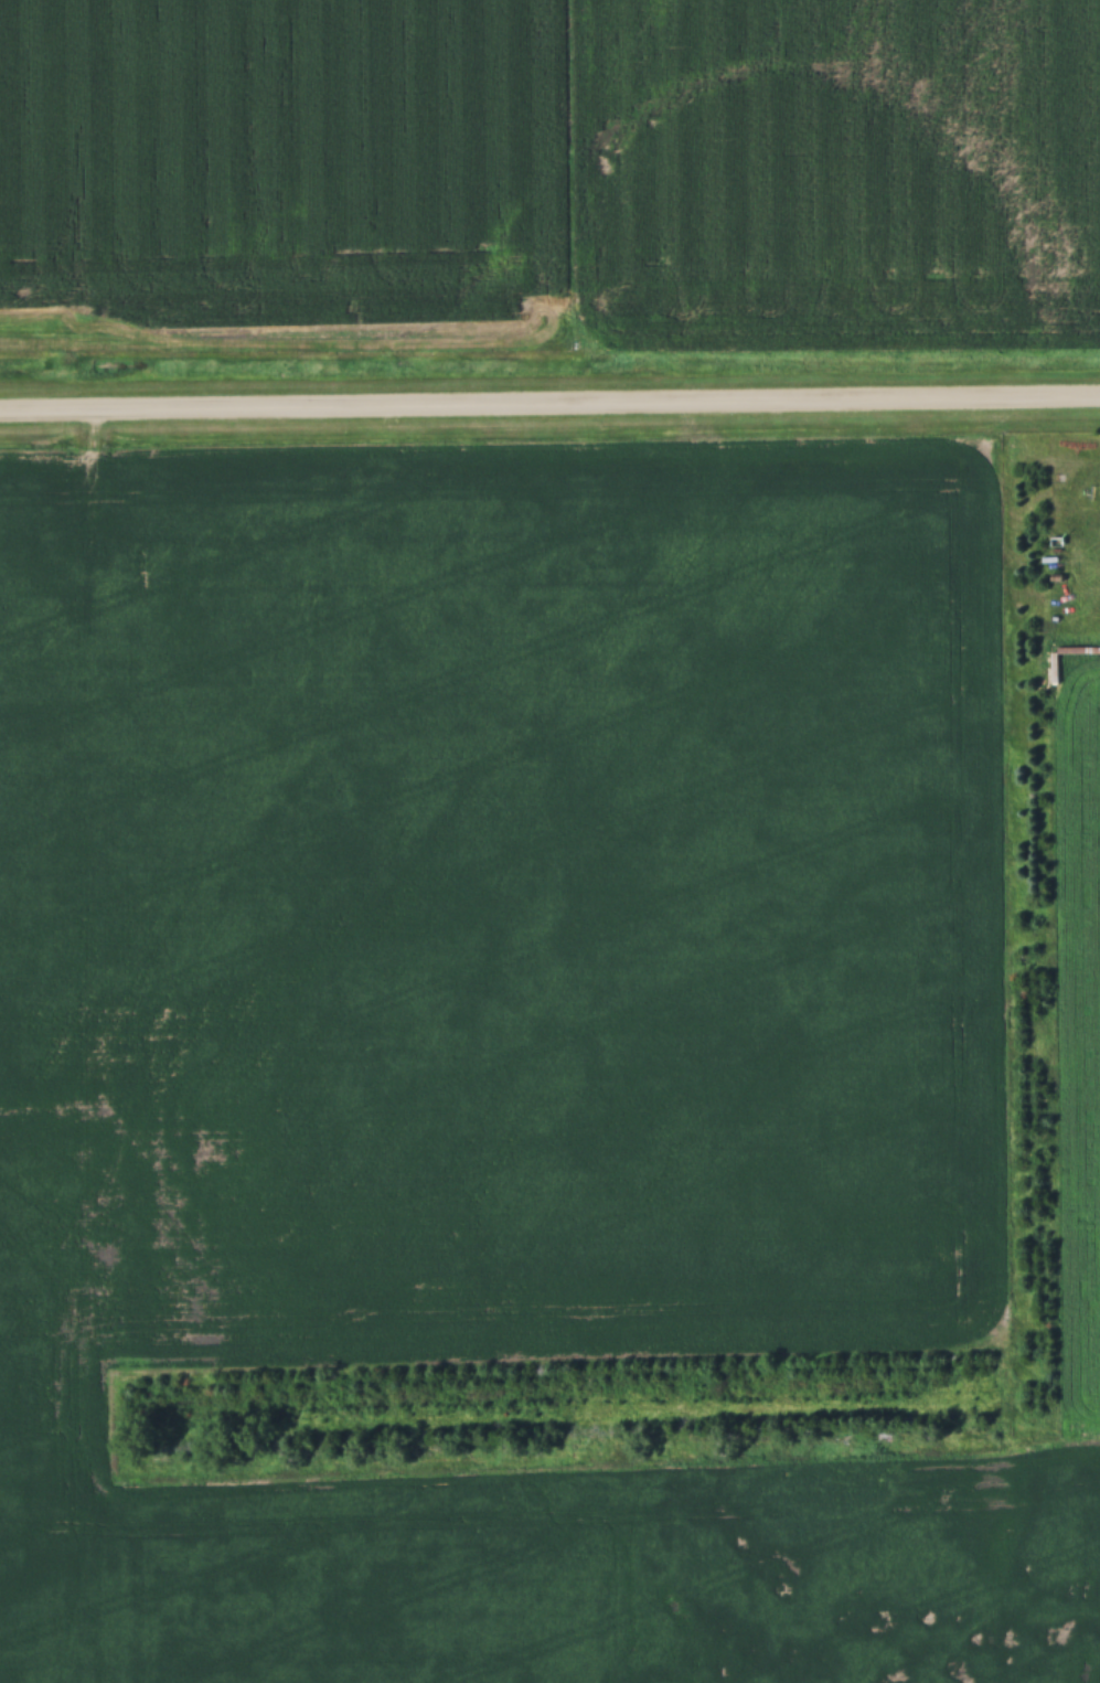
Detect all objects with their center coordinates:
road: (549, 403)

